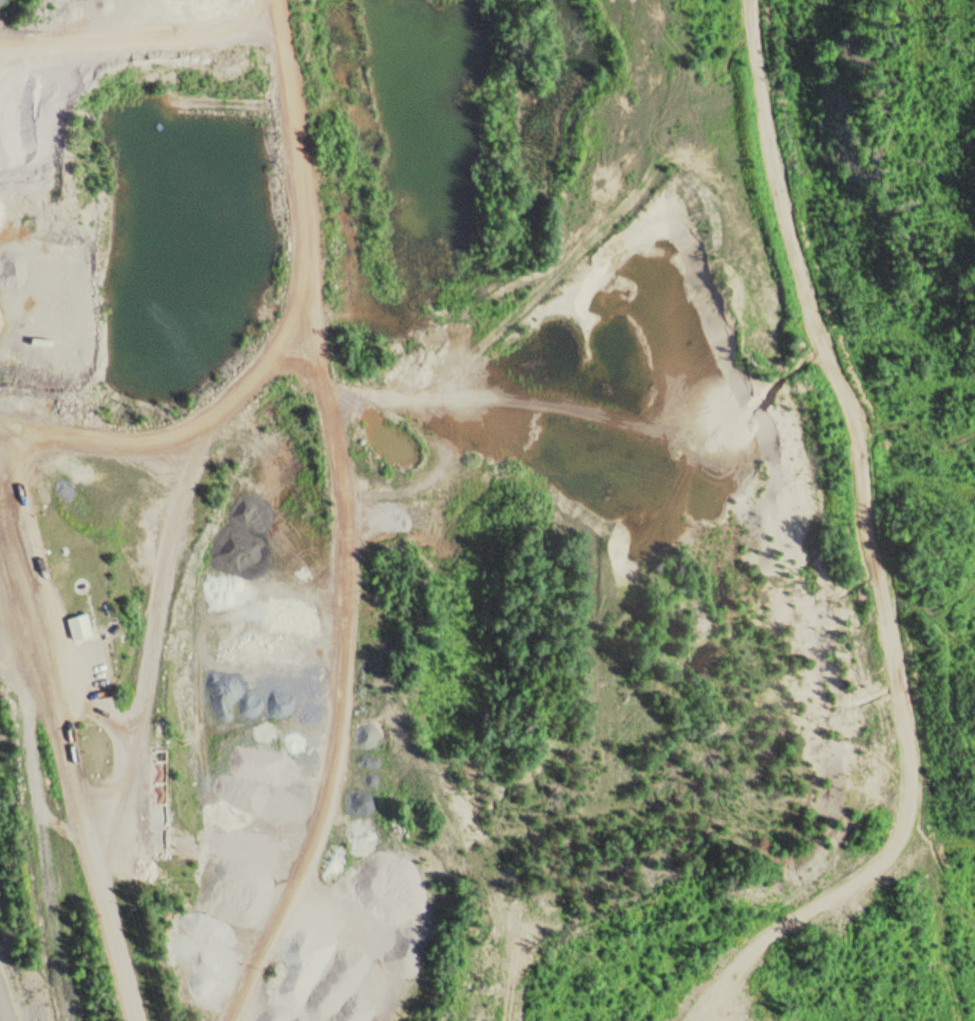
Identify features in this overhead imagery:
road: (188, 415)
road: (339, 523)
road: (165, 622)
road: (76, 747)

